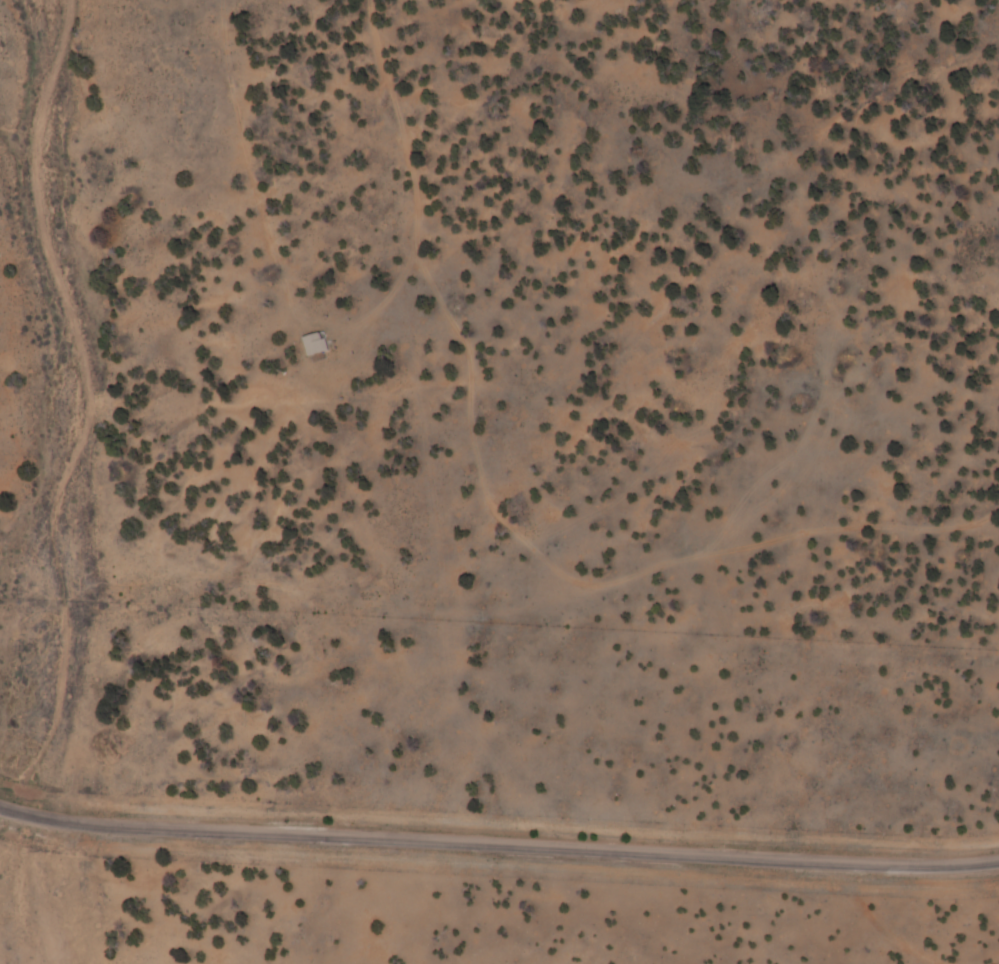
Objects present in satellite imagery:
road: (449, 313)
road: (384, 588)
road: (498, 847)

